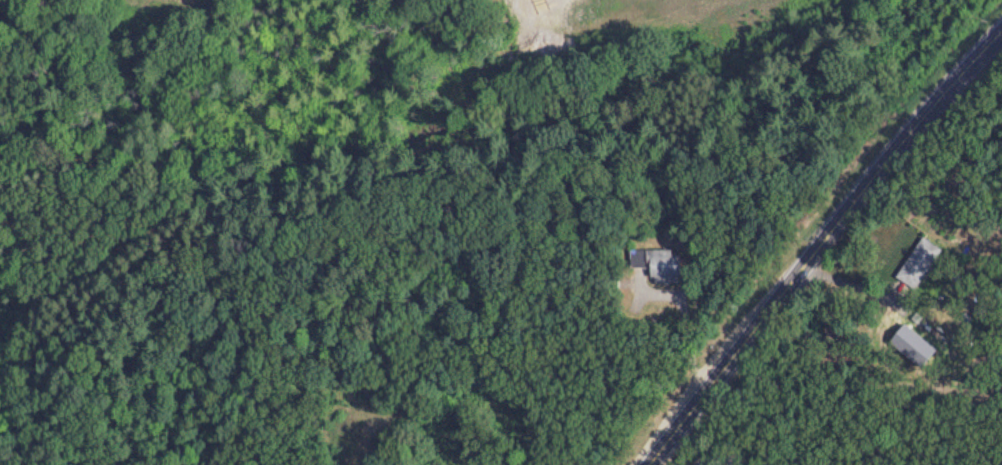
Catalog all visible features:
road: (821, 244)
building: (922, 263)
building: (663, 264)
road: (728, 459)
parking lot: (704, 461)

